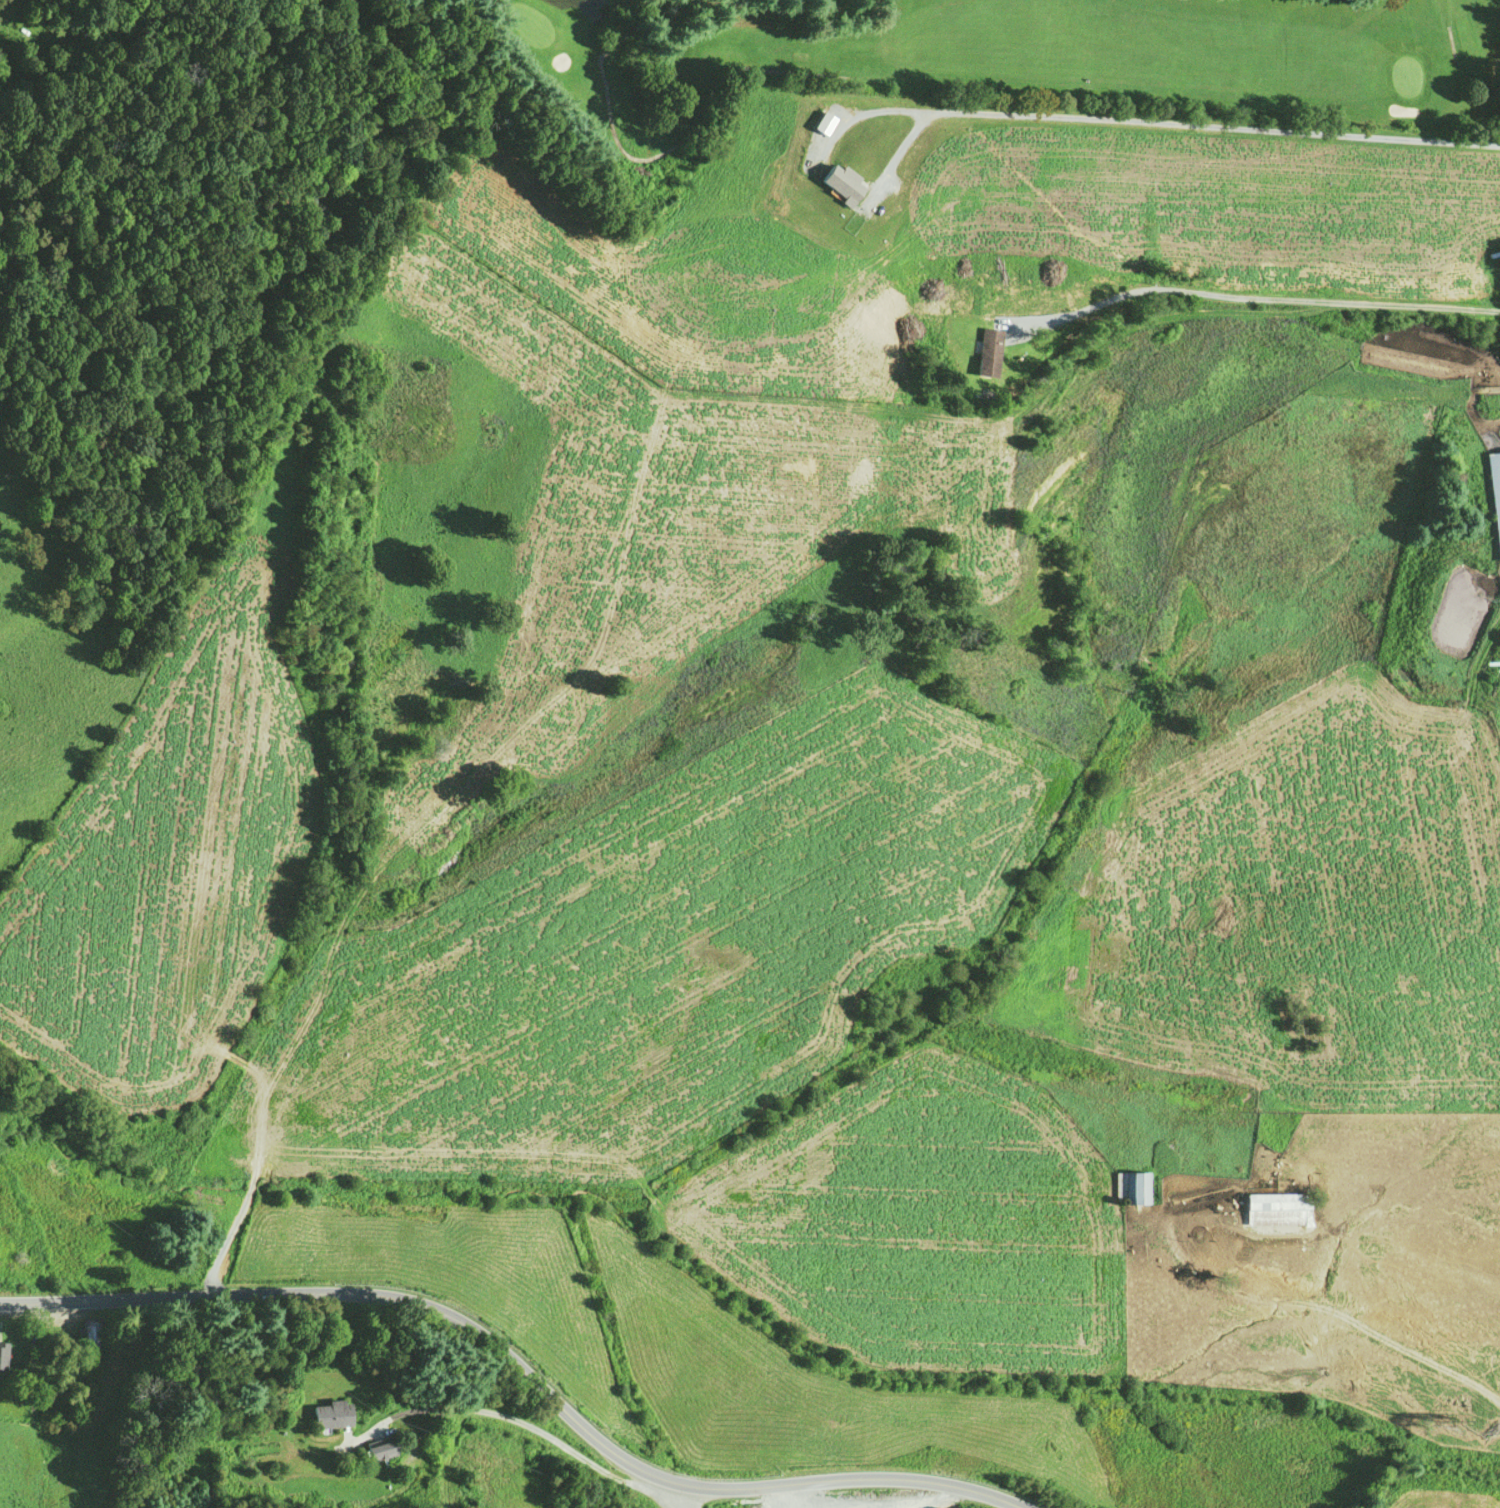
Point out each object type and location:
park: (940, 65)
building: (987, 352)
building: (1495, 495)
building: (1135, 1186)
building: (1275, 1208)
building: (91, 1333)
building: (1, 1355)
road: (522, 1369)
building: (328, 1414)
building: (376, 1448)
road: (792, 1495)

